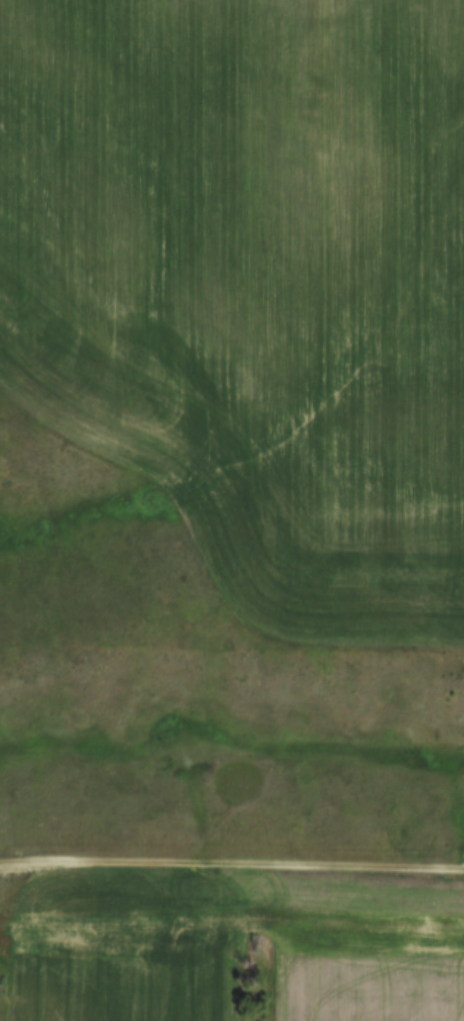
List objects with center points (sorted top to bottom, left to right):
road: (231, 871)

